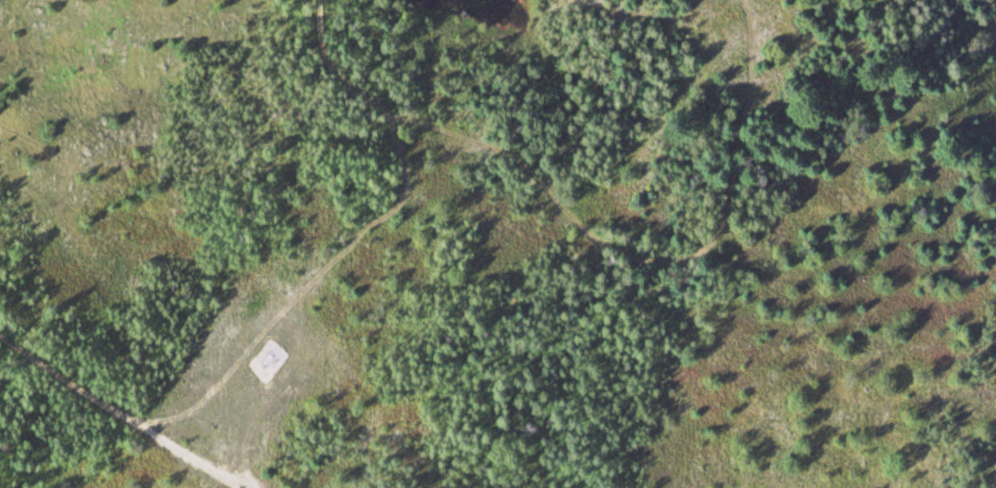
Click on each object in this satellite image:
road: (969, 21)
road: (592, 235)
road: (123, 412)

